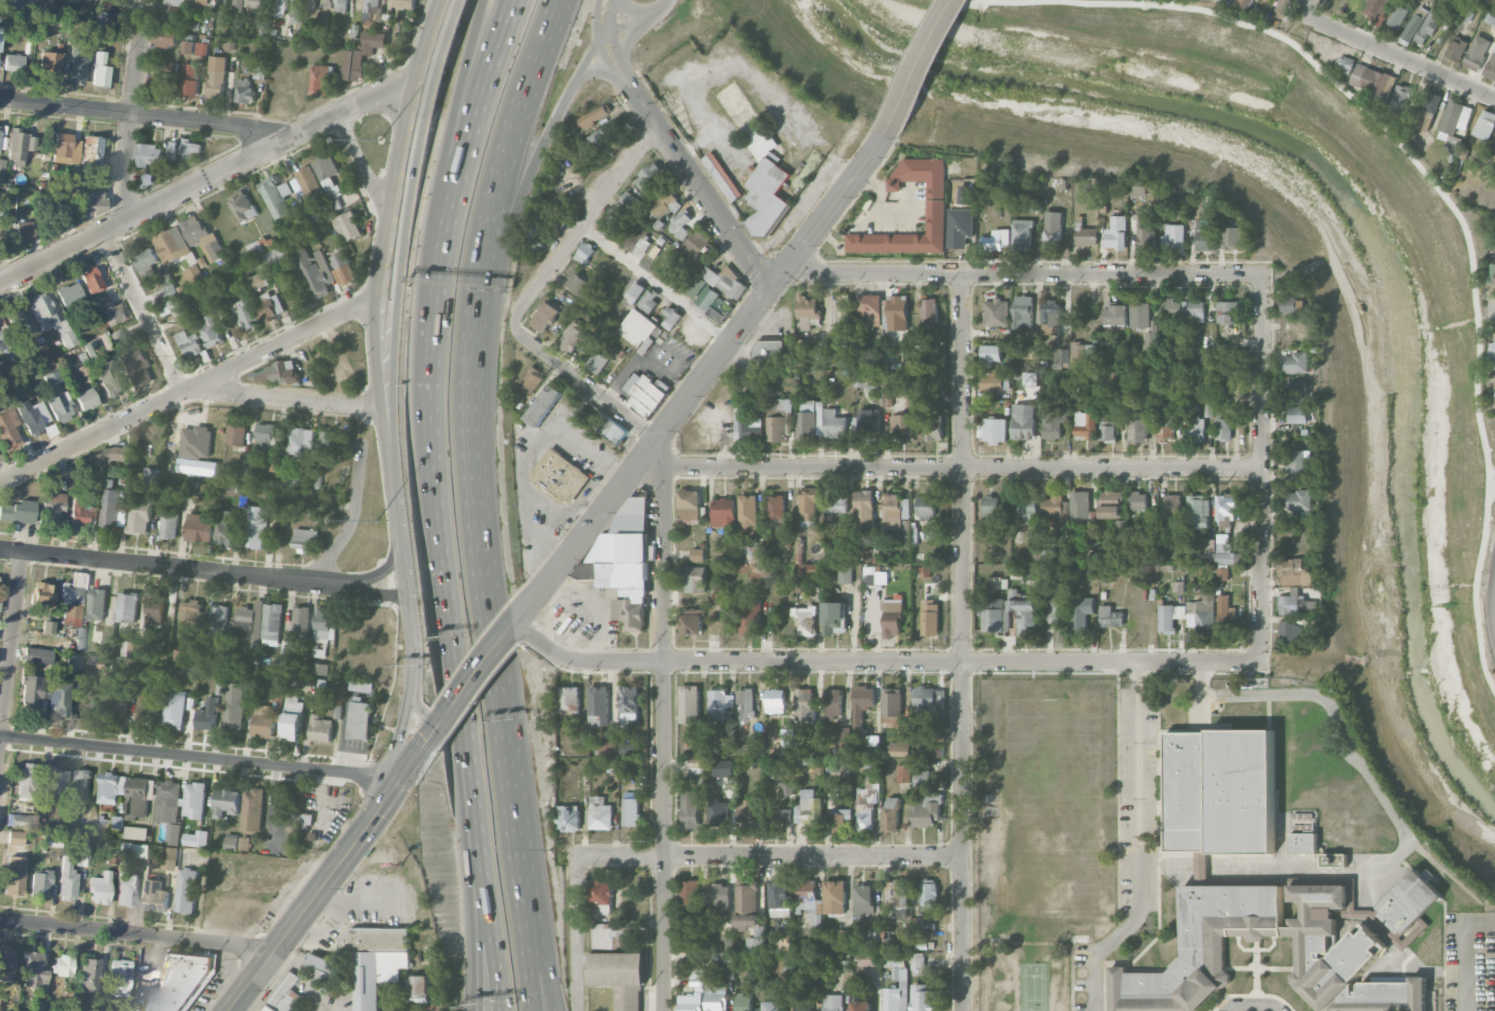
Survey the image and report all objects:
building: (71, 0)
building: (1268, 0)
building: (1475, 0)
building: (200, 1)
road: (1146, 1)
building: (176, 2)
building: (405, 3)
building: (247, 4)
building: (311, 4)
building: (337, 4)
building: (44, 5)
building: (1244, 5)
building: (281, 7)
building: (1283, 8)
road: (1306, 8)
building: (1376, 8)
road: (638, 9)
building: (371, 10)
building: (297, 11)
building: (1466, 15)
road: (637, 17)
building: (1397, 17)
building: (0, 19)
building: (108, 20)
building: (52, 21)
building: (1413, 25)
building: (1428, 25)
road: (630, 34)
building: (167, 37)
road: (607, 37)
road: (451, 45)
building: (196, 47)
building: (1457, 48)
building: (1477, 52)
building: (361, 54)
road: (588, 54)
road: (1399, 57)
building: (13, 62)
building: (79, 62)
building: (1345, 64)
building: (50, 65)
building: (172, 66)
building: (1490, 67)
road: (919, 68)
building: (100, 70)
road: (605, 70)
building: (217, 76)
building: (1373, 79)
building: (190, 80)
building: (320, 80)
road: (628, 82)
building: (159, 84)
building: (245, 91)
building: (1402, 99)
building: (1428, 110)
road: (133, 111)
road: (149, 116)
building: (594, 116)
building: (1455, 119)
building: (1485, 124)
building: (604, 134)
building: (19, 146)
building: (185, 148)
building: (66, 149)
building: (91, 149)
building: (150, 154)
road: (463, 156)
road: (444, 157)
road: (360, 159)
road: (502, 163)
building: (2, 170)
building: (649, 176)
building: (722, 176)
building: (148, 178)
building: (329, 178)
road: (203, 182)
building: (308, 182)
building: (766, 183)
road: (1435, 185)
building: (1138, 187)
road: (596, 189)
road: (702, 189)
building: (965, 195)
building: (276, 196)
building: (90, 201)
road: (515, 203)
building: (665, 204)
building: (242, 205)
building: (302, 205)
building: (65, 208)
building: (935, 211)
road: (826, 212)
building: (619, 213)
road: (586, 224)
building: (347, 225)
building: (681, 225)
building: (1053, 230)
building: (23, 231)
building: (1117, 233)
building: (1022, 234)
building: (1205, 234)
building: (1086, 235)
building: (1146, 235)
building: (636, 236)
building: (957, 236)
building: (202, 237)
building: (1174, 238)
building: (1233, 238)
building: (996, 240)
building: (535, 241)
building: (171, 242)
road: (380, 244)
building: (261, 245)
building: (695, 250)
building: (584, 253)
building: (274, 255)
building: (147, 260)
building: (598, 267)
building: (341, 268)
building: (671, 270)
building: (314, 271)
road: (1021, 274)
building: (1491, 274)
building: (92, 280)
road: (3, 281)
building: (255, 281)
building: (727, 281)
building: (694, 283)
building: (579, 284)
road: (657, 285)
building: (169, 290)
road: (398, 290)
building: (634, 291)
building: (70, 293)
building: (649, 302)
building: (1292, 303)
building: (270, 305)
building: (170, 307)
building: (1176, 307)
building: (720, 309)
building: (1196, 309)
building: (113, 310)
building: (807, 311)
building: (869, 311)
building: (929, 311)
building: (1022, 311)
building: (1228, 311)
road: (145, 312)
building: (897, 312)
building: (995, 312)
building: (1051, 312)
road: (1494, 312)
building: (1115, 313)
building: (244, 314)
building: (671, 314)
building: (545, 316)
building: (1141, 316)
building: (51, 318)
building: (18, 322)
building: (638, 329)
building: (211, 331)
building: (572, 338)
building: (4, 339)
building: (1146, 341)
building: (190, 344)
building: (803, 345)
building: (1082, 353)
building: (990, 355)
building: (1491, 356)
building: (1061, 357)
building: (598, 361)
building: (1295, 362)
building: (141, 367)
building: (87, 368)
building: (275, 373)
building: (110, 377)
building: (52, 378)
building: (866, 378)
building: (1030, 378)
building: (531, 380)
building: (995, 382)
road: (583, 383)
building: (891, 385)
road: (186, 391)
building: (1297, 392)
building: (646, 393)
building: (1075, 393)
building: (86, 399)
road: (293, 400)
building: (1223, 402)
building: (546, 404)
building: (61, 407)
building: (1298, 414)
building: (32, 416)
building: (779, 418)
building: (810, 420)
building: (1023, 421)
building: (1053, 422)
building: (835, 423)
building: (867, 424)
building: (1085, 424)
building: (747, 425)
building: (902, 425)
building: (1138, 426)
building: (609, 427)
building: (934, 427)
building: (1166, 427)
building: (1196, 428)
building: (994, 429)
building: (1223, 429)
building: (9, 430)
building: (1108, 430)
building: (237, 433)
building: (268, 437)
building: (300, 437)
building: (197, 442)
building: (328, 445)
road: (539, 451)
road: (661, 453)
building: (113, 455)
road: (640, 459)
building: (1297, 460)
building: (272, 463)
road: (471, 464)
road: (963, 468)
road: (1261, 468)
building: (561, 475)
building: (153, 477)
building: (317, 479)
building: (191, 489)
road: (1492, 489)
building: (1139, 499)
building: (1298, 499)
building: (839, 503)
building: (113, 504)
building: (1111, 504)
building: (52, 506)
building: (689, 506)
building: (991, 506)
building: (1080, 506)
building: (1171, 506)
building: (776, 507)
building: (926, 507)
building: (1226, 508)
building: (748, 509)
building: (864, 509)
building: (893, 510)
building: (1027, 510)
building: (1056, 510)
building: (18, 512)
building: (723, 512)
building: (1197, 512)
building: (80, 514)
building: (140, 516)
road: (354, 517)
building: (170, 524)
building: (257, 526)
building: (1120, 526)
building: (199, 527)
building: (227, 527)
building: (905, 529)
building: (305, 540)
road: (402, 547)
building: (1208, 547)
building: (1224, 549)
building: (623, 551)
building: (697, 554)
building: (867, 554)
building: (1047, 555)
building: (754, 563)
building: (805, 565)
road: (169, 567)
road: (378, 571)
building: (922, 571)
building: (1294, 572)
building: (845, 573)
building: (1223, 573)
building: (874, 576)
building: (694, 579)
building: (1049, 580)
road: (444, 584)
road: (373, 592)
building: (43, 595)
building: (716, 598)
building: (72, 601)
building: (97, 604)
building: (1295, 604)
road: (1494, 604)
building: (127, 606)
building: (155, 609)
building: (1057, 609)
building: (1225, 611)
building: (630, 612)
building: (1080, 612)
building: (1202, 612)
building: (994, 614)
building: (1025, 614)
building: (892, 616)
building: (1110, 616)
building: (749, 617)
building: (835, 617)
building: (929, 617)
building: (1170, 617)
building: (190, 619)
building: (301, 619)
building: (805, 619)
building: (218, 620)
building: (692, 621)
building: (250, 623)
building: (272, 624)
building: (324, 624)
road: (1494, 626)
building: (48, 627)
building: (1291, 631)
road: (413, 641)
road: (963, 642)
road: (491, 645)
building: (134, 649)
building: (318, 653)
road: (11, 655)
building: (38, 655)
building: (176, 655)
building: (74, 660)
road: (882, 663)
building: (319, 668)
building: (99, 671)
road: (477, 675)
building: (220, 686)
building: (34, 692)
building: (59, 698)
building: (571, 699)
building: (774, 700)
building: (118, 701)
building: (745, 703)
building: (833, 703)
building: (862, 703)
building: (930, 703)
building: (689, 704)
building: (719, 704)
building: (804, 704)
building: (234, 705)
building: (599, 705)
building: (629, 705)
road: (420, 707)
building: (892, 707)
building: (146, 708)
building: (175, 708)
building: (207, 715)
building: (292, 717)
building: (360, 719)
building: (264, 720)
traffic signals: (439, 725)
building: (321, 729)
building: (844, 733)
building: (817, 735)
road: (400, 737)
building: (786, 737)
road: (664, 739)
road: (1344, 746)
building: (607, 747)
building: (899, 748)
building: (628, 749)
building: (936, 750)
road: (198, 756)
building: (697, 765)
building: (637, 769)
road: (508, 770)
building: (903, 773)
building: (696, 778)
building: (921, 778)
building: (27, 780)
building: (54, 784)
building: (80, 785)
building: (112, 787)
building: (868, 790)
building: (1219, 792)
traffic signals: (391, 793)
building: (140, 796)
building: (195, 799)
building: (168, 800)
building: (226, 802)
building: (807, 806)
building: (253, 808)
building: (690, 809)
building: (925, 810)
building: (631, 811)
building: (719, 812)
building: (600, 813)
building: (746, 813)
building: (890, 813)
building: (784, 814)
building: (307, 818)
building: (570, 818)
building: (838, 819)
building: (19, 820)
building: (864, 820)
building: (1304, 822)
building: (136, 832)
building: (174, 833)
building: (15, 838)
building: (53, 840)
building: (232, 841)
building: (245, 843)
building: (1302, 843)
road: (1138, 845)
building: (136, 849)
building: (83, 855)
road: (723, 855)
building: (113, 858)
building: (171, 858)
building: (1333, 859)
road: (337, 866)
building: (15, 875)
building: (67, 879)
building: (40, 883)
building: (100, 888)
building: (127, 889)
building: (187, 890)
building: (690, 894)
building: (928, 894)
building: (156, 895)
building: (601, 896)
building: (834, 896)
building: (718, 897)
building: (780, 898)
building: (863, 898)
building: (896, 898)
road: (358, 901)
building: (809, 901)
building: (746, 905)
building: (1407, 907)
building: (923, 926)
road: (537, 927)
road: (524, 928)
road: (473, 930)
road: (487, 931)
road: (136, 934)
building: (888, 935)
building: (604, 937)
building: (844, 939)
building: (874, 940)
building: (727, 941)
building: (754, 943)
building: (1203, 943)
road: (1464, 948)
building: (868, 959)
building: (376, 960)
building: (781, 960)
building: (917, 961)
building: (7, 962)
building: (62, 965)
building: (726, 965)
building: (326, 967)
building: (34, 971)
building: (90, 975)
building: (119, 977)
building: (619, 977)
road: (577, 981)
building: (175, 984)
building: (422, 990)
building: (699, 990)
building: (287, 994)
building: (897, 995)
building: (802, 998)
building: (923, 998)
building: (715, 999)
building: (775, 1000)
building: (1, 1002)
building: (743, 1002)
building: (833, 1002)
building: (862, 1005)
road: (1253, 1006)
building: (270, 1008)

